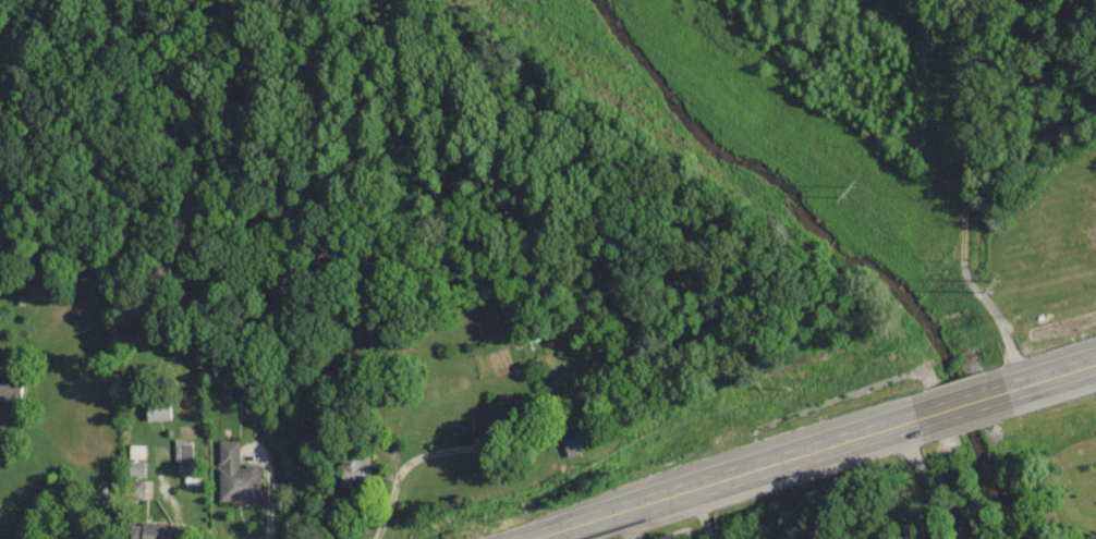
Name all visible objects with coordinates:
power tower: (854, 189)
power tower: (991, 286)
building: (154, 411)
building: (567, 440)
road: (808, 449)
building: (356, 466)
building: (235, 475)
building: (143, 530)

